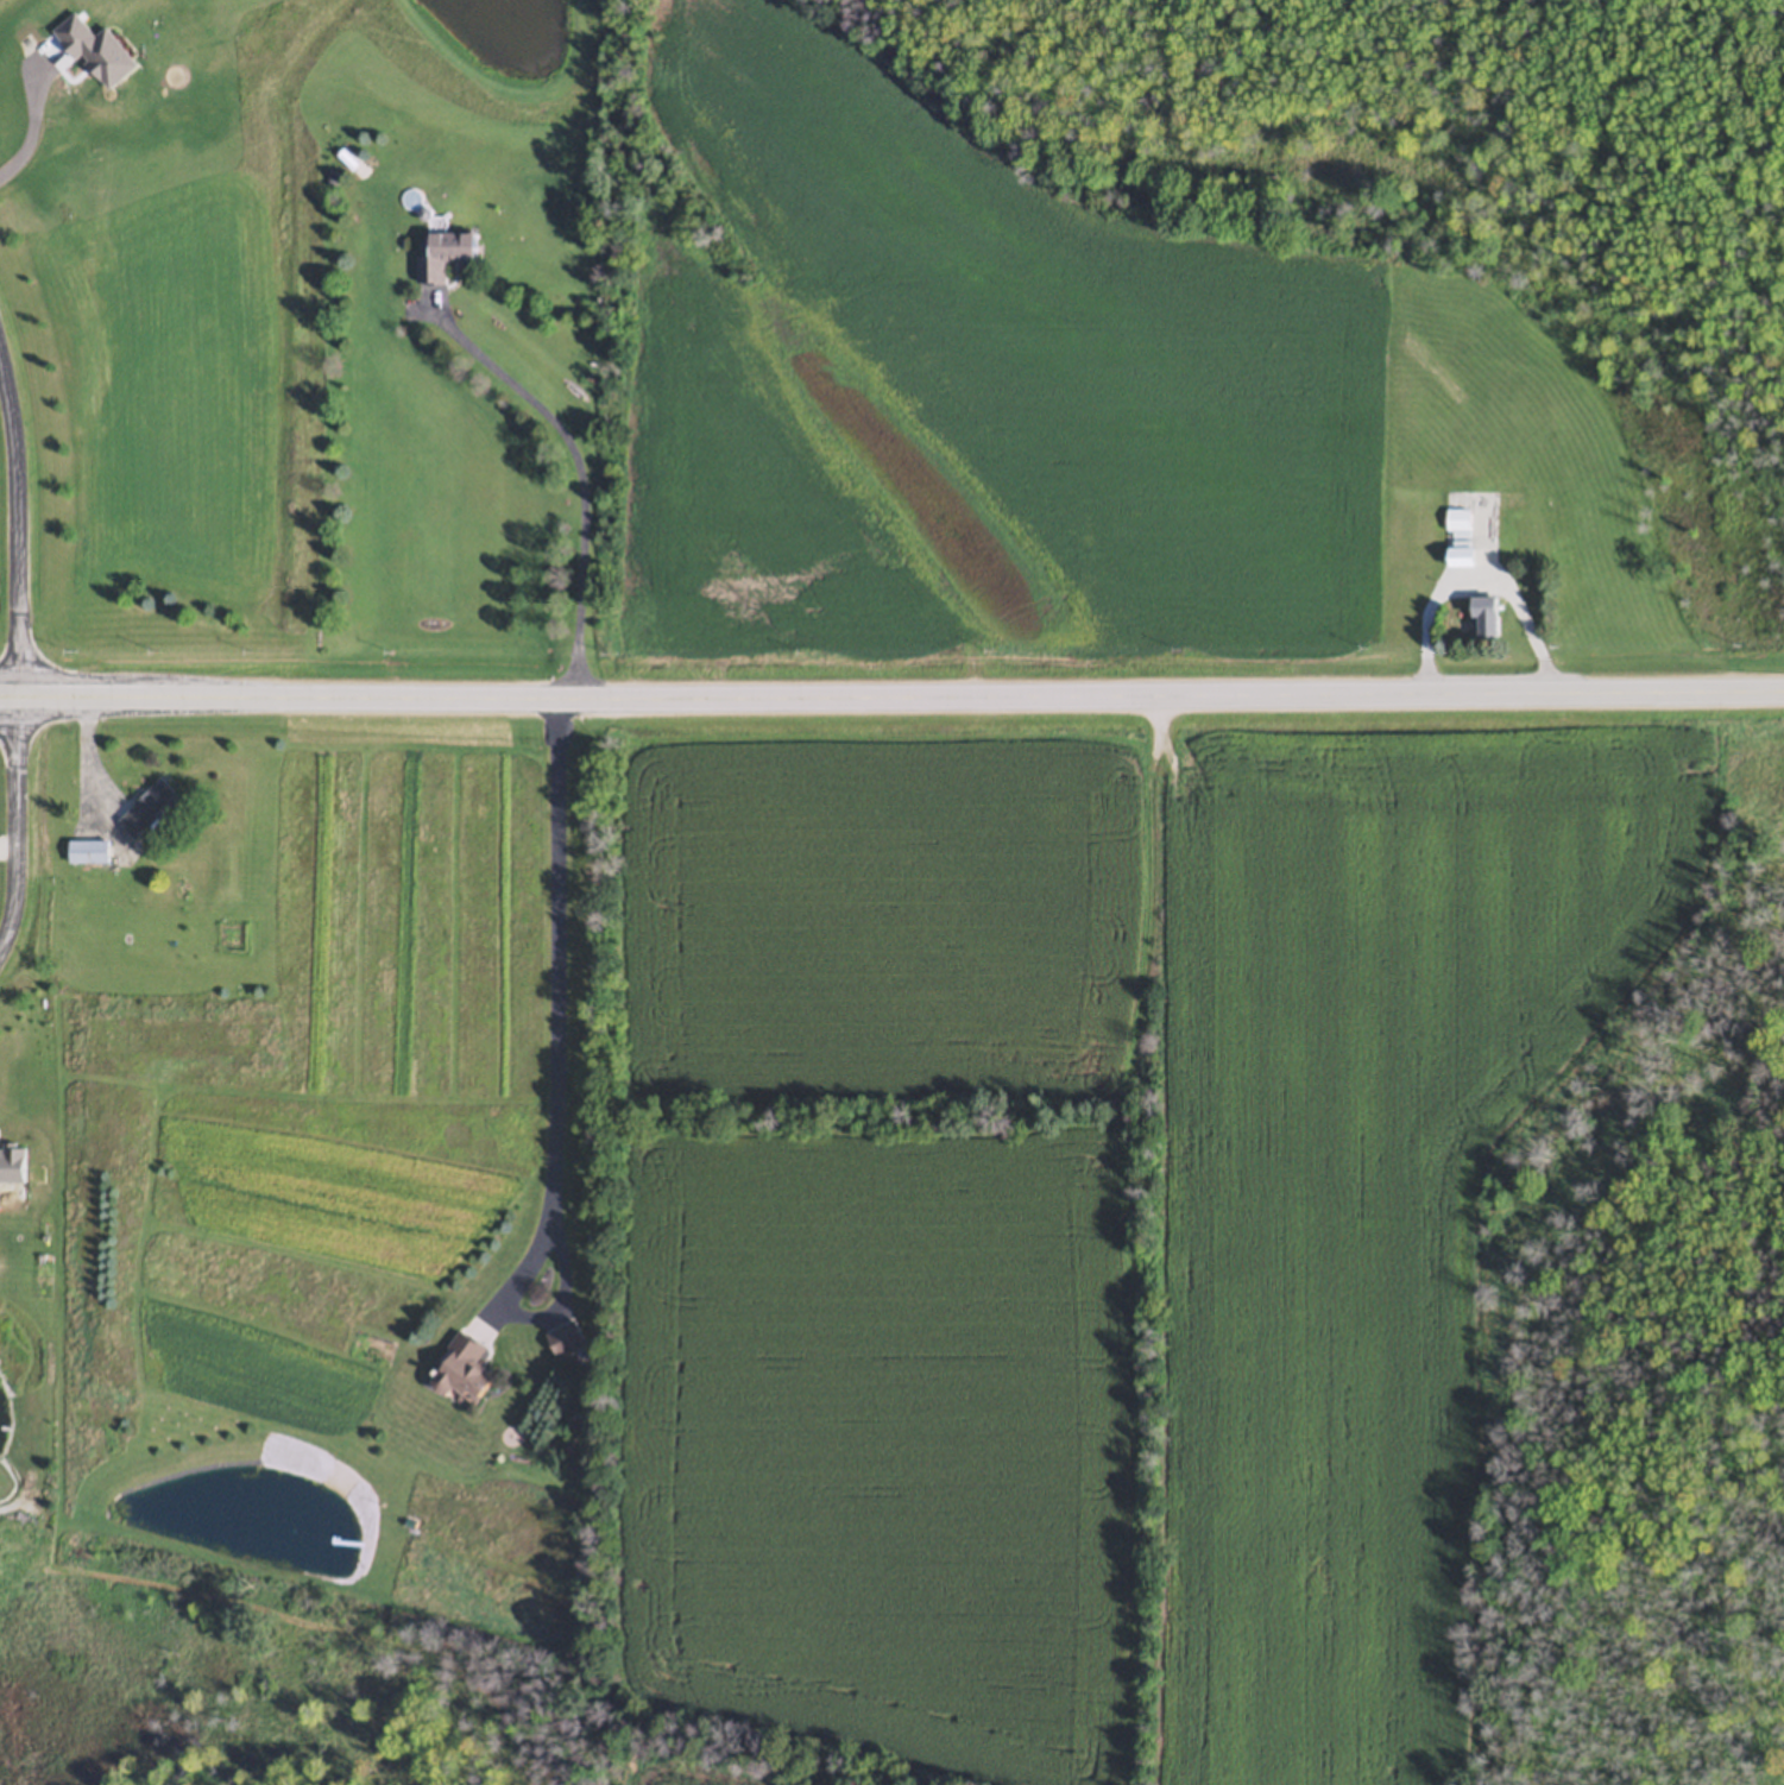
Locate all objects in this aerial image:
road: (38, 115)
building: (460, 258)
road: (582, 473)
road: (20, 519)
building: (1455, 523)
building: (1456, 561)
building: (1480, 622)
road: (891, 693)
building: (158, 808)
road: (17, 821)
building: (95, 852)
road: (560, 1007)
building: (573, 1339)
building: (472, 1369)

